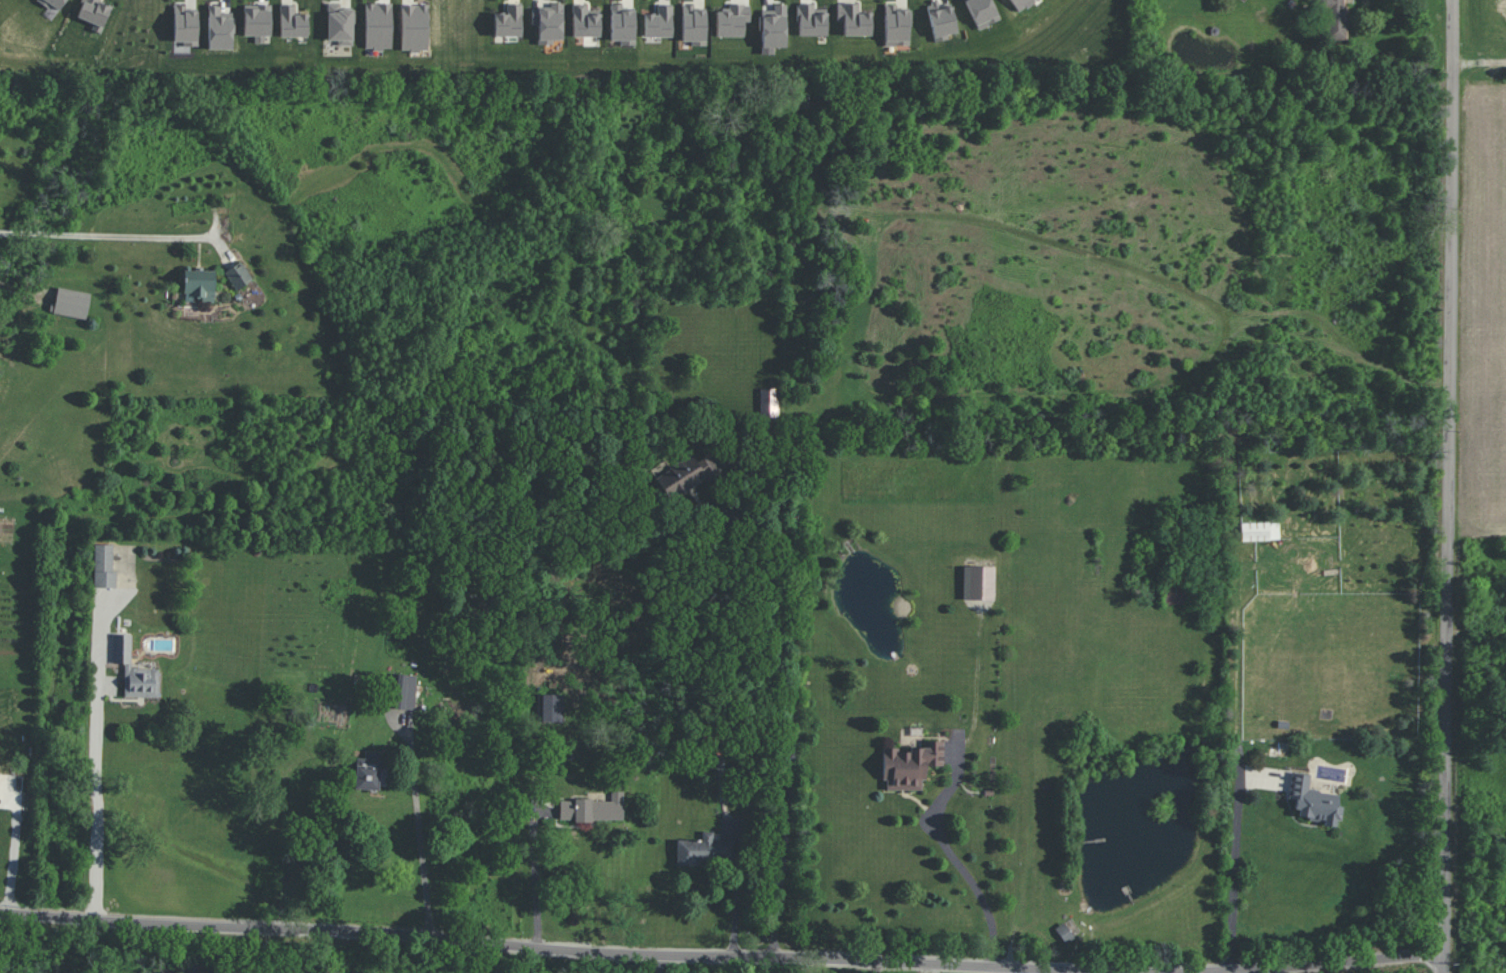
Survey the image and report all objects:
building: (54, 4)
building: (1020, 4)
building: (981, 12)
building: (94, 13)
building: (1334, 17)
building: (732, 20)
building: (854, 20)
building: (941, 20)
building: (508, 21)
building: (585, 21)
building: (811, 21)
building: (257, 22)
building: (292, 22)
building: (658, 22)
building: (548, 23)
building: (339, 24)
building: (622, 24)
building: (693, 25)
building: (185, 26)
building: (378, 26)
building: (896, 26)
building: (414, 27)
building: (774, 27)
building: (219, 28)
road: (1479, 62)
road: (105, 235)
building: (238, 275)
building: (199, 283)
building: (71, 303)
building: (769, 402)
building: (686, 475)
road: (1449, 486)
building: (1260, 531)
building: (104, 566)
building: (978, 582)
building: (1176, 594)
building: (134, 670)
building: (405, 691)
road: (794, 701)
building: (550, 707)
road: (97, 761)
building: (910, 765)
building: (1314, 801)
building: (593, 808)
road: (419, 825)
road: (11, 844)
building: (705, 850)
road: (1234, 866)
road: (535, 869)
road: (975, 886)
road: (737, 896)
road: (722, 957)
road: (1184, 972)

